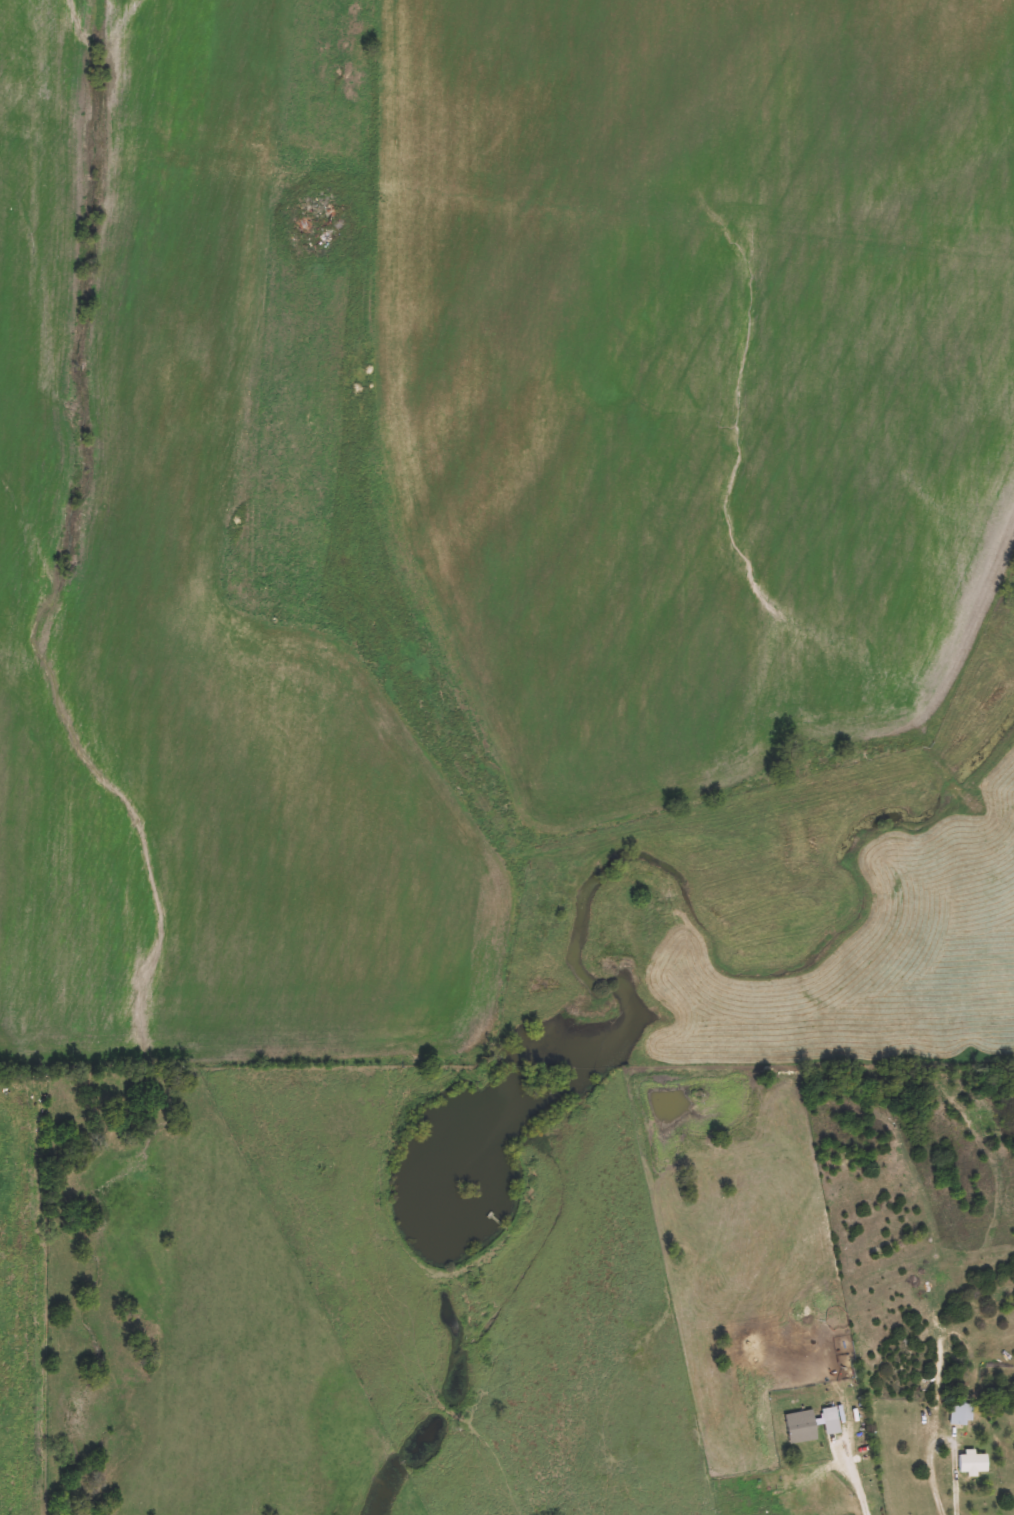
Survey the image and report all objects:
building: (962, 1413)
building: (926, 1415)
building: (832, 1420)
building: (802, 1426)
building: (975, 1462)
road: (957, 1482)
road: (858, 1484)

